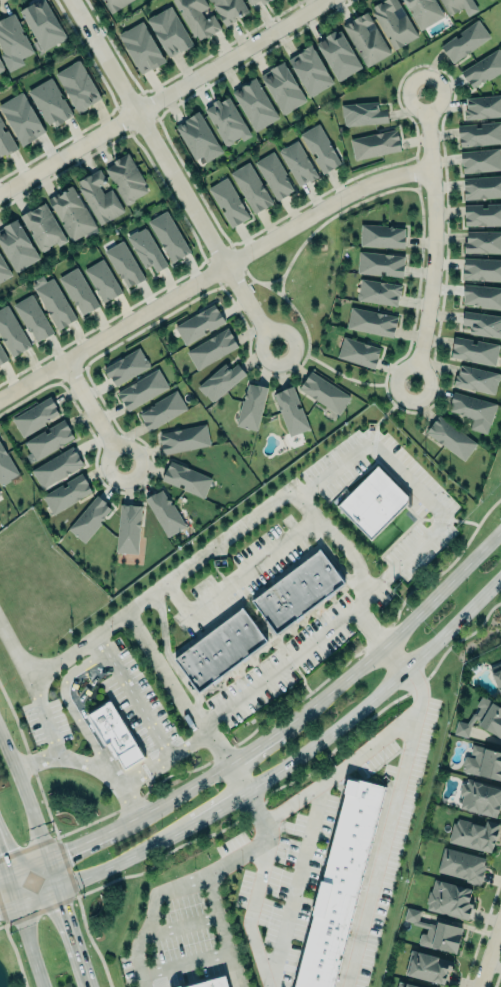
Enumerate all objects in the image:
building: (251, 1)
building: (263, 1)
building: (114, 4)
building: (458, 6)
building: (229, 9)
building: (423, 11)
building: (197, 18)
building: (393, 22)
building: (41, 23)
building: (169, 32)
building: (366, 38)
building: (464, 40)
building: (12, 42)
building: (141, 45)
building: (338, 53)
building: (2, 66)
building: (310, 69)
building: (482, 69)
building: (77, 85)
building: (282, 86)
road: (163, 96)
building: (49, 102)
building: (254, 103)
building: (482, 107)
building: (362, 113)
building: (21, 118)
building: (226, 120)
building: (479, 134)
building: (196, 136)
building: (5, 141)
building: (374, 144)
building: (320, 148)
building: (479, 159)
building: (297, 162)
road: (172, 173)
building: (273, 176)
building: (126, 177)
building: (250, 187)
building: (481, 187)
building: (99, 197)
building: (227, 201)
building: (71, 212)
building: (482, 214)
building: (42, 226)
building: (168, 236)
building: (381, 236)
road: (432, 238)
building: (482, 241)
building: (16, 246)
building: (146, 249)
building: (122, 263)
building: (379, 263)
road: (211, 267)
building: (481, 269)
building: (3, 271)
building: (102, 280)
building: (78, 291)
building: (378, 292)
building: (481, 296)
building: (53, 301)
building: (32, 318)
building: (371, 321)
building: (199, 324)
building: (482, 324)
building: (11, 332)
building: (211, 348)
building: (474, 350)
building: (358, 352)
building: (2, 356)
building: (125, 366)
building: (476, 379)
building: (219, 380)
building: (141, 389)
building: (323, 393)
building: (251, 406)
building: (473, 409)
road: (93, 410)
building: (162, 410)
building: (290, 410)
building: (35, 416)
building: (450, 438)
building: (183, 439)
building: (48, 440)
building: (56, 466)
building: (6, 467)
building: (186, 478)
road: (413, 483)
building: (66, 493)
building: (373, 502)
building: (164, 512)
building: (88, 519)
building: (128, 528)
road: (212, 546)
road: (237, 577)
building: (297, 591)
road: (400, 630)
building: (220, 648)
road: (15, 654)
road: (395, 659)
road: (47, 668)
building: (497, 674)
road: (419, 689)
road: (382, 693)
road: (131, 694)
road: (227, 707)
road: (71, 709)
road: (274, 711)
building: (482, 718)
building: (113, 734)
road: (260, 741)
road: (407, 745)
road: (69, 758)
building: (483, 763)
road: (239, 777)
road: (183, 791)
road: (269, 792)
building: (479, 797)
road: (221, 808)
building: (473, 834)
road: (74, 848)
road: (48, 859)
traffic signals: (49, 860)
road: (4, 864)
building: (462, 865)
road: (107, 868)
traffic signals: (9, 875)
road: (4, 876)
road: (176, 883)
road: (294, 884)
building: (340, 884)
road: (13, 889)
traffic signals: (59, 889)
building: (449, 899)
traffic signals: (18, 904)
road: (9, 906)
road: (216, 909)
road: (249, 913)
road: (81, 922)
road: (179, 925)
building: (435, 932)
road: (32, 945)
road: (12, 946)
road: (489, 953)
park: (11, 958)
road: (185, 963)
building: (427, 966)
road: (231, 969)
building: (210, 983)
building: (404, 985)
building: (178, 986)

